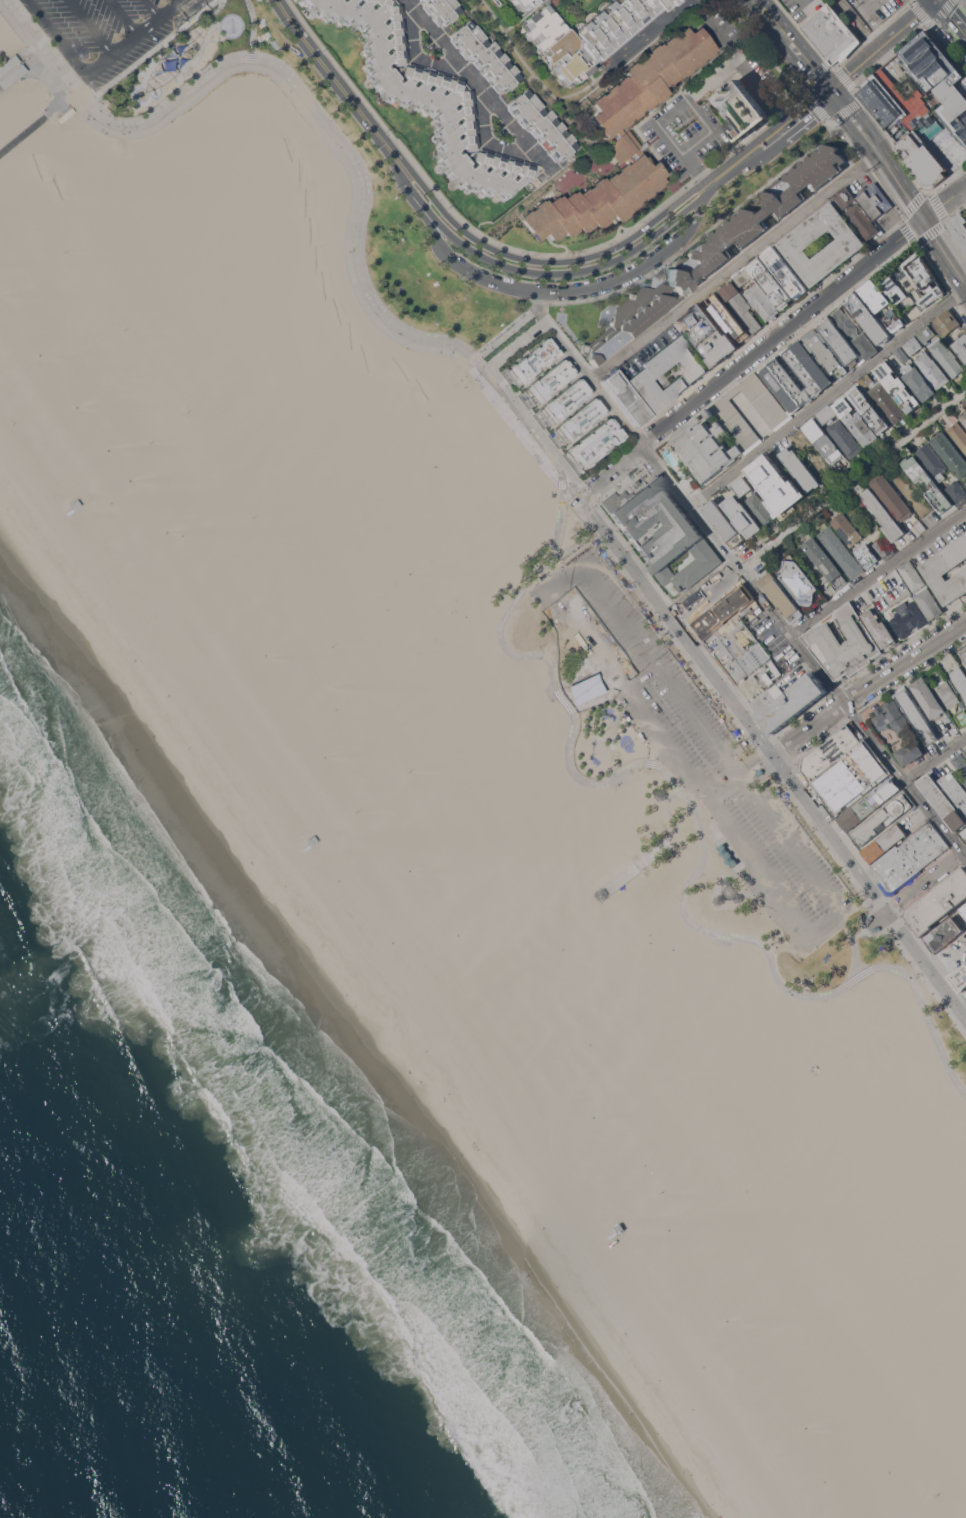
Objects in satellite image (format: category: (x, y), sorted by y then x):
building: (300, 0)
building: (421, 0)
road: (180, 1)
road: (805, 1)
building: (523, 4)
road: (151, 9)
building: (441, 10)
road: (954, 13)
road: (122, 18)
road: (874, 20)
road: (89, 27)
parking lot: (717, 27)
parking lot: (108, 29)
road: (252, 32)
road: (647, 33)
building: (832, 34)
building: (586, 35)
road: (136, 36)
road: (56, 37)
road: (800, 43)
road: (881, 45)
road: (784, 50)
road: (150, 51)
road: (733, 51)
road: (415, 56)
building: (485, 57)
road: (265, 58)
building: (9, 71)
road: (536, 78)
building: (939, 78)
road: (593, 79)
road: (336, 82)
parking lot: (764, 84)
road: (478, 85)
road: (285, 86)
road: (586, 89)
traffic signals: (833, 90)
road: (73, 96)
building: (426, 96)
building: (890, 99)
road: (665, 104)
road: (683, 106)
road: (786, 108)
building: (740, 110)
building: (64, 115)
road: (857, 121)
building: (541, 125)
road: (774, 133)
road: (22, 134)
parking lot: (687, 137)
road: (486, 140)
building: (623, 141)
building: (925, 148)
road: (698, 172)
building: (921, 172)
road: (901, 186)
building: (875, 200)
road: (676, 202)
road: (943, 202)
road: (685, 208)
building: (856, 212)
park: (396, 224)
road: (621, 228)
building: (959, 228)
road: (617, 234)
road: (697, 240)
building: (795, 243)
road: (556, 246)
building: (713, 250)
road: (943, 252)
road: (504, 253)
road: (575, 254)
road: (736, 265)
road: (506, 266)
building: (785, 272)
building: (743, 276)
building: (924, 280)
building: (770, 282)
building: (890, 286)
road: (819, 287)
road: (552, 292)
building: (874, 296)
building: (762, 302)
building: (740, 305)
building: (910, 311)
building: (869, 318)
building: (894, 320)
building: (947, 322)
building: (732, 324)
building: (856, 332)
building: (965, 333)
building: (708, 334)
building: (927, 334)
road: (558, 336)
road: (502, 337)
building: (840, 341)
building: (913, 345)
building: (961, 346)
road: (754, 352)
building: (825, 352)
building: (901, 354)
building: (947, 357)
building: (532, 362)
building: (932, 370)
building: (645, 375)
building: (815, 376)
building: (867, 380)
building: (548, 382)
building: (918, 382)
building: (899, 388)
road: (828, 395)
building: (626, 398)
building: (563, 402)
building: (888, 402)
building: (870, 409)
building: (827, 414)
building: (964, 418)
building: (578, 421)
building: (856, 423)
road: (512, 424)
building: (728, 429)
building: (958, 435)
building: (845, 438)
building: (825, 442)
building: (594, 444)
building: (950, 452)
building: (933, 461)
building: (800, 468)
road: (852, 480)
building: (690, 482)
road: (562, 483)
building: (776, 484)
road: (578, 485)
building: (742, 486)
building: (934, 487)
building: (957, 492)
building: (891, 496)
building: (80, 497)
building: (760, 509)
building: (742, 516)
building: (884, 516)
building: (724, 523)
building: (920, 526)
building: (847, 529)
building: (663, 533)
building: (884, 547)
building: (841, 552)
building: (868, 557)
park: (420, 565)
building: (826, 565)
building: (947, 570)
road: (879, 572)
road: (567, 573)
building: (912, 575)
building: (798, 580)
building: (900, 589)
park: (385, 590)
road: (706, 597)
building: (782, 597)
building: (930, 604)
park: (444, 605)
building: (722, 611)
road: (776, 617)
building: (908, 618)
road: (671, 621)
building: (879, 628)
building: (822, 643)
park: (424, 645)
building: (734, 651)
building: (964, 653)
road: (904, 662)
road: (660, 668)
building: (960, 679)
building: (582, 686)
road: (632, 688)
building: (763, 689)
building: (928, 698)
building: (953, 701)
building: (788, 702)
building: (916, 715)
building: (893, 716)
road: (809, 730)
parking lot: (699, 749)
building: (911, 752)
building: (965, 752)
building: (827, 753)
road: (754, 759)
road: (936, 759)
building: (959, 761)
road: (866, 762)
road: (771, 766)
building: (759, 773)
road: (740, 774)
road: (612, 777)
building: (965, 778)
road: (757, 779)
road: (723, 780)
road: (745, 782)
building: (965, 782)
building: (828, 783)
road: (728, 787)
building: (955, 789)
road: (711, 793)
building: (660, 795)
building: (942, 802)
building: (861, 810)
building: (883, 819)
building: (328, 840)
building: (884, 843)
road: (794, 851)
road: (643, 855)
building: (727, 855)
building: (910, 858)
road: (764, 867)
road: (927, 883)
road: (870, 889)
building: (727, 894)
building: (601, 897)
building: (939, 902)
building: (964, 910)
road: (829, 928)
building: (944, 934)
road: (857, 937)
building: (960, 978)
building: (965, 994)
building: (605, 1235)

